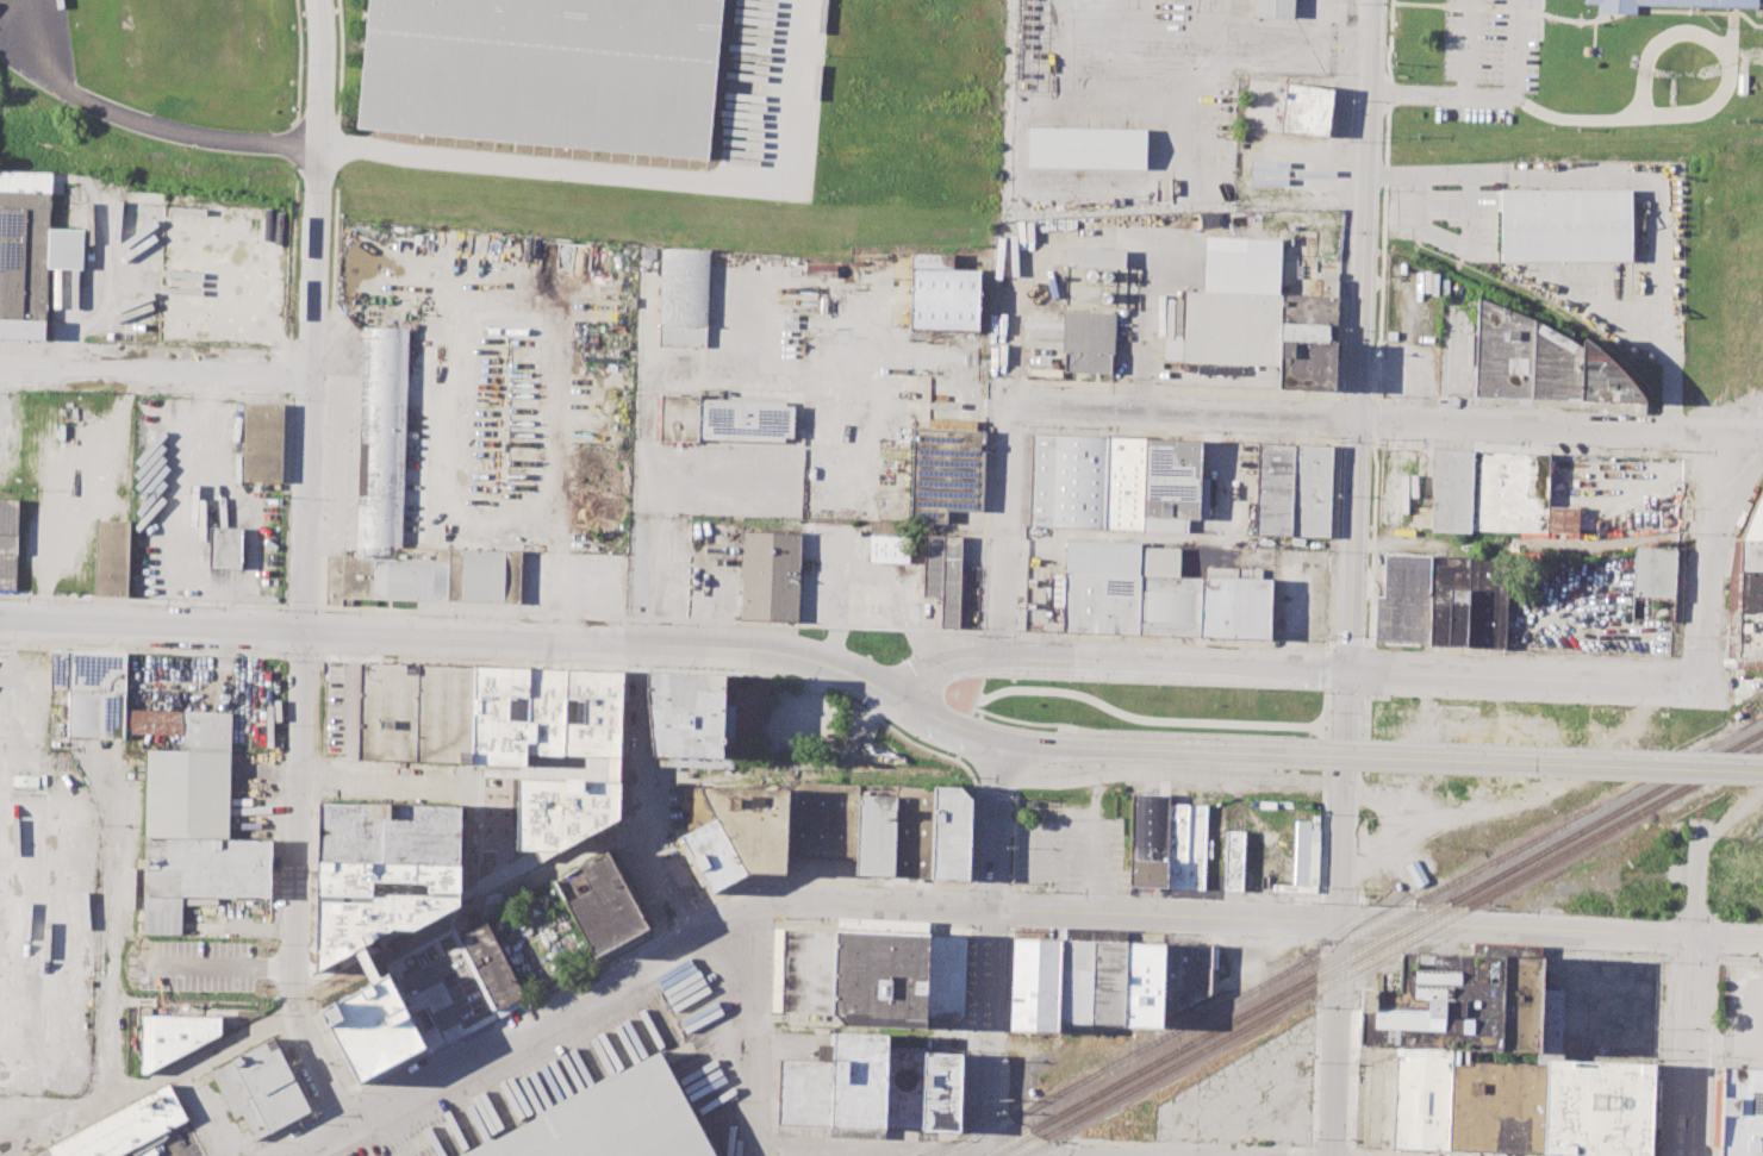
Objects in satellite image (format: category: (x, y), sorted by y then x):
building: (1667, 4)
building: (1273, 7)
road: (1220, 17)
road: (1294, 39)
parking lot: (37, 43)
road: (1469, 48)
road: (1515, 49)
parking lot: (1488, 57)
road: (299, 64)
building: (544, 71)
parking lot: (1155, 93)
parking lot: (767, 99)
road: (1111, 100)
building: (1288, 107)
road: (1649, 117)
road: (293, 146)
building: (1086, 146)
road: (459, 157)
road: (1633, 173)
road: (1382, 201)
parking lot: (1452, 220)
building: (1566, 225)
building: (31, 245)
road: (291, 258)
building: (932, 260)
parking lot: (1626, 273)
parking lot: (1128, 285)
building: (1327, 286)
road: (519, 293)
building: (683, 296)
building: (943, 298)
building: (1232, 327)
building: (23, 329)
road: (1360, 335)
building: (1088, 339)
building: (1307, 342)
building: (1502, 351)
road: (760, 357)
parking lot: (808, 360)
building: (1555, 364)
building: (1219, 369)
road: (287, 370)
road: (154, 376)
building: (1605, 377)
parking lot: (488, 386)
building: (678, 417)
building: (745, 419)
road: (1371, 420)
road: (1387, 426)
building: (382, 436)
building: (262, 440)
road: (286, 442)
building: (945, 471)
building: (1171, 479)
building: (1067, 480)
building: (1123, 482)
building: (1275, 488)
building: (1312, 490)
building: (1451, 490)
building: (1509, 490)
road: (1007, 518)
building: (1563, 519)
building: (1755, 521)
parking lot: (671, 526)
building: (8, 542)
road: (1371, 543)
building: (225, 546)
building: (889, 548)
building: (1751, 555)
building: (112, 557)
building: (1103, 557)
road: (1707, 558)
building: (1160, 560)
road: (301, 564)
building: (1653, 571)
building: (943, 573)
building: (770, 575)
road: (672, 579)
parking lot: (572, 581)
building: (1750, 591)
road: (878, 599)
building: (1403, 600)
building: (1449, 601)
building: (1487, 601)
building: (1102, 602)
building: (1170, 605)
building: (1235, 607)
building: (1749, 638)
road: (453, 639)
road: (1326, 641)
road: (1347, 641)
road: (1365, 641)
road: (1115, 661)
road: (1326, 669)
road: (1366, 671)
road: (1525, 679)
building: (89, 692)
road: (1325, 706)
building: (388, 711)
building: (547, 711)
building: (593, 712)
building: (446, 713)
building: (686, 713)
building: (743, 713)
building: (500, 716)
road: (1139, 717)
road: (1101, 726)
road: (1364, 735)
road: (1530, 746)
road: (1092, 748)
road: (1323, 749)
railway: (1736, 755)
road: (1530, 763)
building: (585, 767)
road: (1170, 775)
road: (1323, 780)
road: (443, 786)
road: (648, 798)
building: (563, 811)
building: (823, 818)
building: (753, 824)
building: (197, 826)
road: (1046, 829)
building: (914, 831)
building: (390, 832)
building: (951, 832)
building: (876, 835)
building: (1148, 838)
road: (1096, 844)
road: (1321, 844)
building: (1185, 845)
road: (1042, 854)
building: (1304, 854)
building: (714, 855)
building: (1233, 860)
building: (1415, 873)
building: (378, 901)
building: (600, 902)
road: (988, 907)
road: (1339, 912)
road: (1319, 919)
road: (993, 926)
railway: (11, 933)
railway: (1351, 935)
road: (1319, 938)
road: (1337, 942)
road: (116, 943)
railway: (1372, 943)
road: (992, 946)
railway: (1385, 950)
road: (1607, 954)
road: (1319, 955)
road: (1705, 962)
road: (1757, 962)
building: (491, 966)
road: (211, 967)
building: (804, 969)
building: (879, 973)
building: (1185, 973)
building: (946, 974)
building: (1074, 981)
building: (1108, 982)
building: (1034, 985)
building: (1142, 985)
road: (1693, 988)
road: (328, 989)
road: (1750, 1001)
building: (1435, 1004)
building: (1519, 1004)
building: (1550, 1025)
road: (823, 1026)
building: (373, 1027)
road: (753, 1031)
road: (940, 1033)
building: (172, 1037)
building: (858, 1079)
building: (263, 1088)
building: (904, 1088)
building: (941, 1091)
building: (804, 1093)
building: (1420, 1096)
building: (1495, 1106)
building: (1597, 1106)
building: (1739, 1112)
building: (617, 1121)
road: (1348, 1125)
building: (124, 1126)
road: (764, 1129)
road: (1314, 1145)
road: (1347, 1145)
road: (1331, 1146)
building: (42, 1152)
road: (1308, 1152)
road: (1352, 1152)
road: (846, 1154)
road: (1308, 1155)
road: (1351, 1155)

